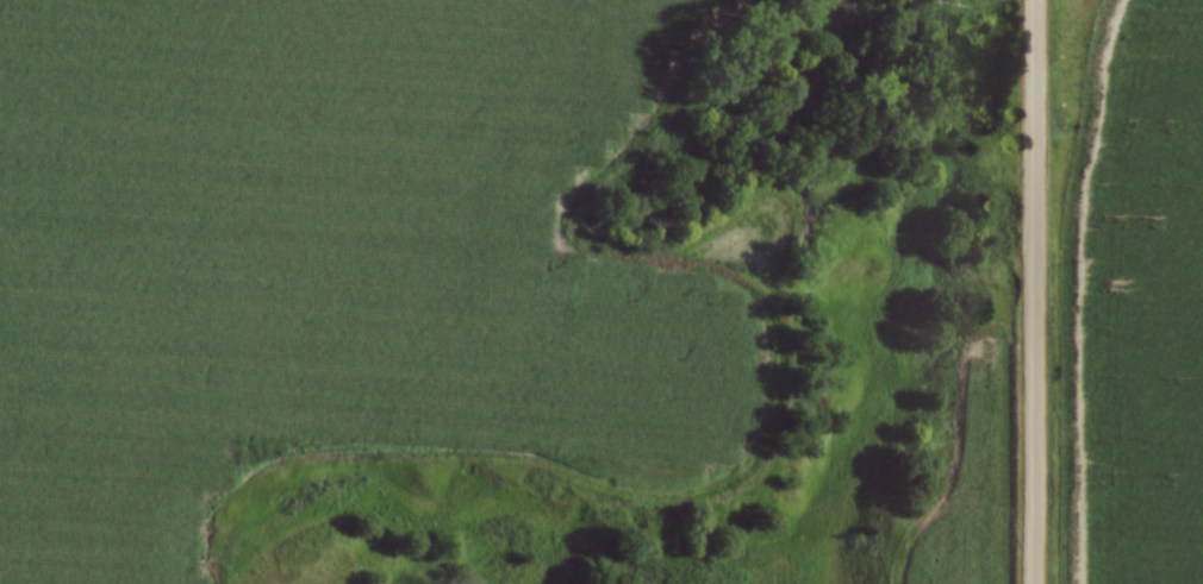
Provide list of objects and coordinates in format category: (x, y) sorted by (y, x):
road: (1036, 291)
crop: (1130, 303)

